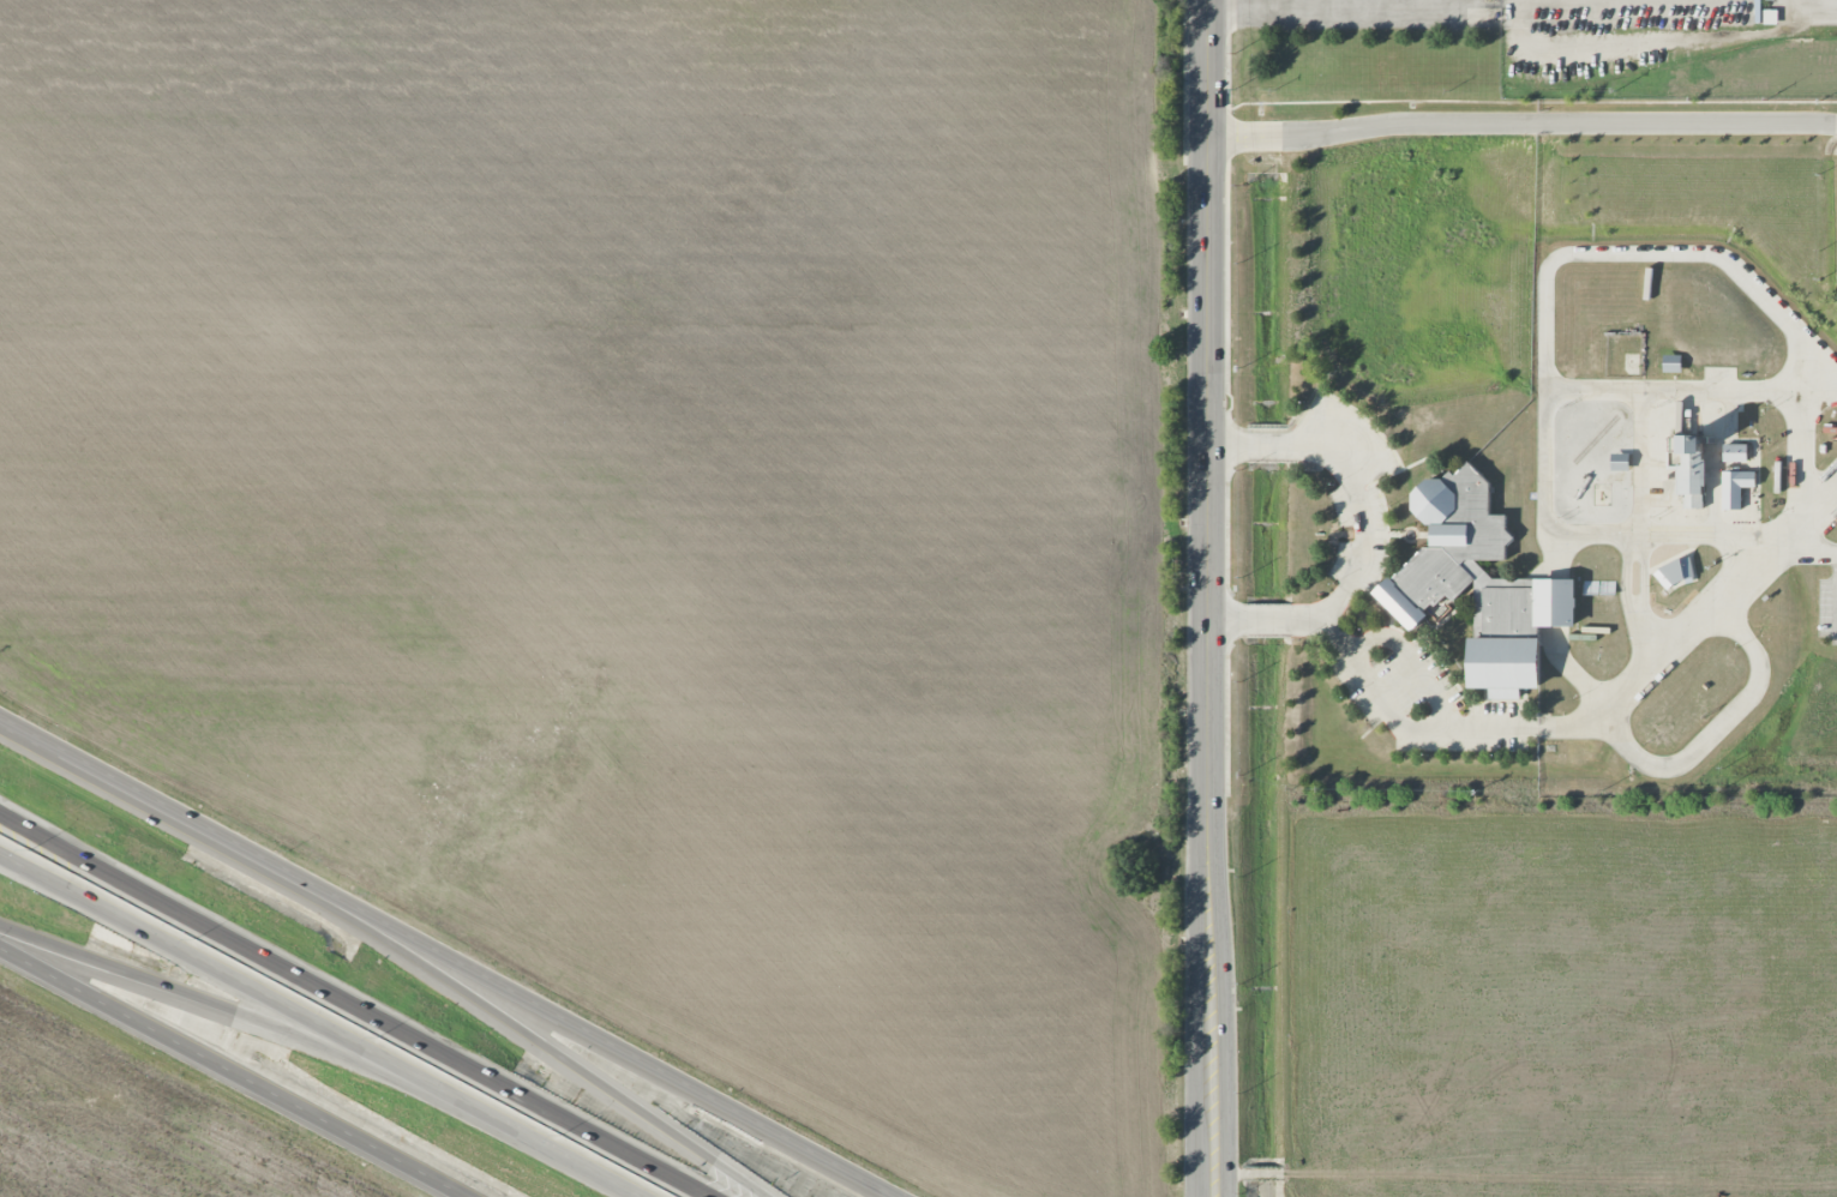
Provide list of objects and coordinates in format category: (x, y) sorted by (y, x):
road: (1295, 1)
road: (1340, 1)
road: (1559, 1)
road: (1319, 2)
road: (1827, 5)
road: (1521, 122)
building: (1671, 363)
road: (1545, 368)
road: (1691, 389)
railway: (1595, 439)
road: (1265, 444)
road: (1225, 445)
building: (1734, 453)
building: (1619, 463)
building: (1689, 470)
road: (1802, 470)
building: (1735, 488)
road: (1820, 497)
road: (1359, 512)
road: (1698, 535)
building: (1675, 575)
building: (1478, 585)
road: (1208, 598)
road: (1219, 618)
road: (1261, 619)
road: (1410, 657)
road: (1758, 672)
road: (1391, 717)
road: (1568, 722)
road: (444, 958)
road: (449, 986)
road: (355, 1004)
road: (319, 1024)
road: (270, 1027)
road: (232, 1071)

